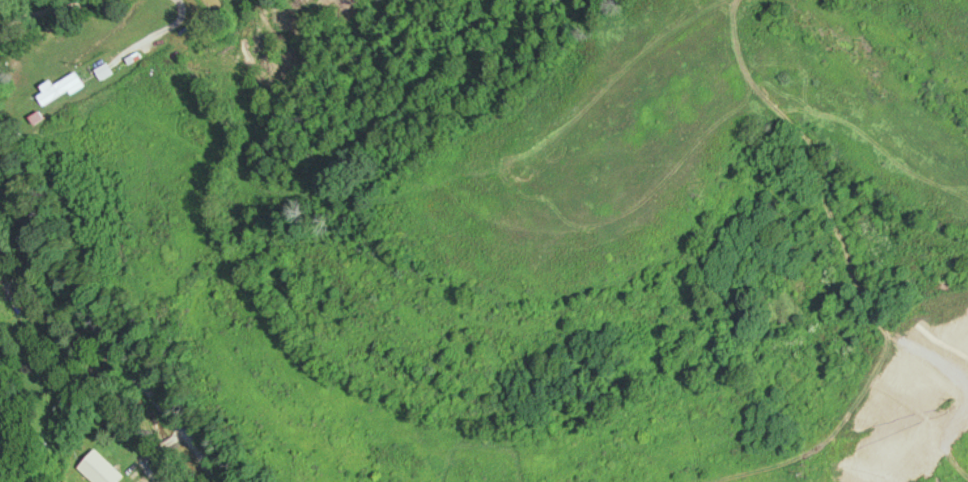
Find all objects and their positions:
road: (26, 7)
road: (157, 28)
building: (55, 89)
road: (99, 338)
building: (96, 469)

